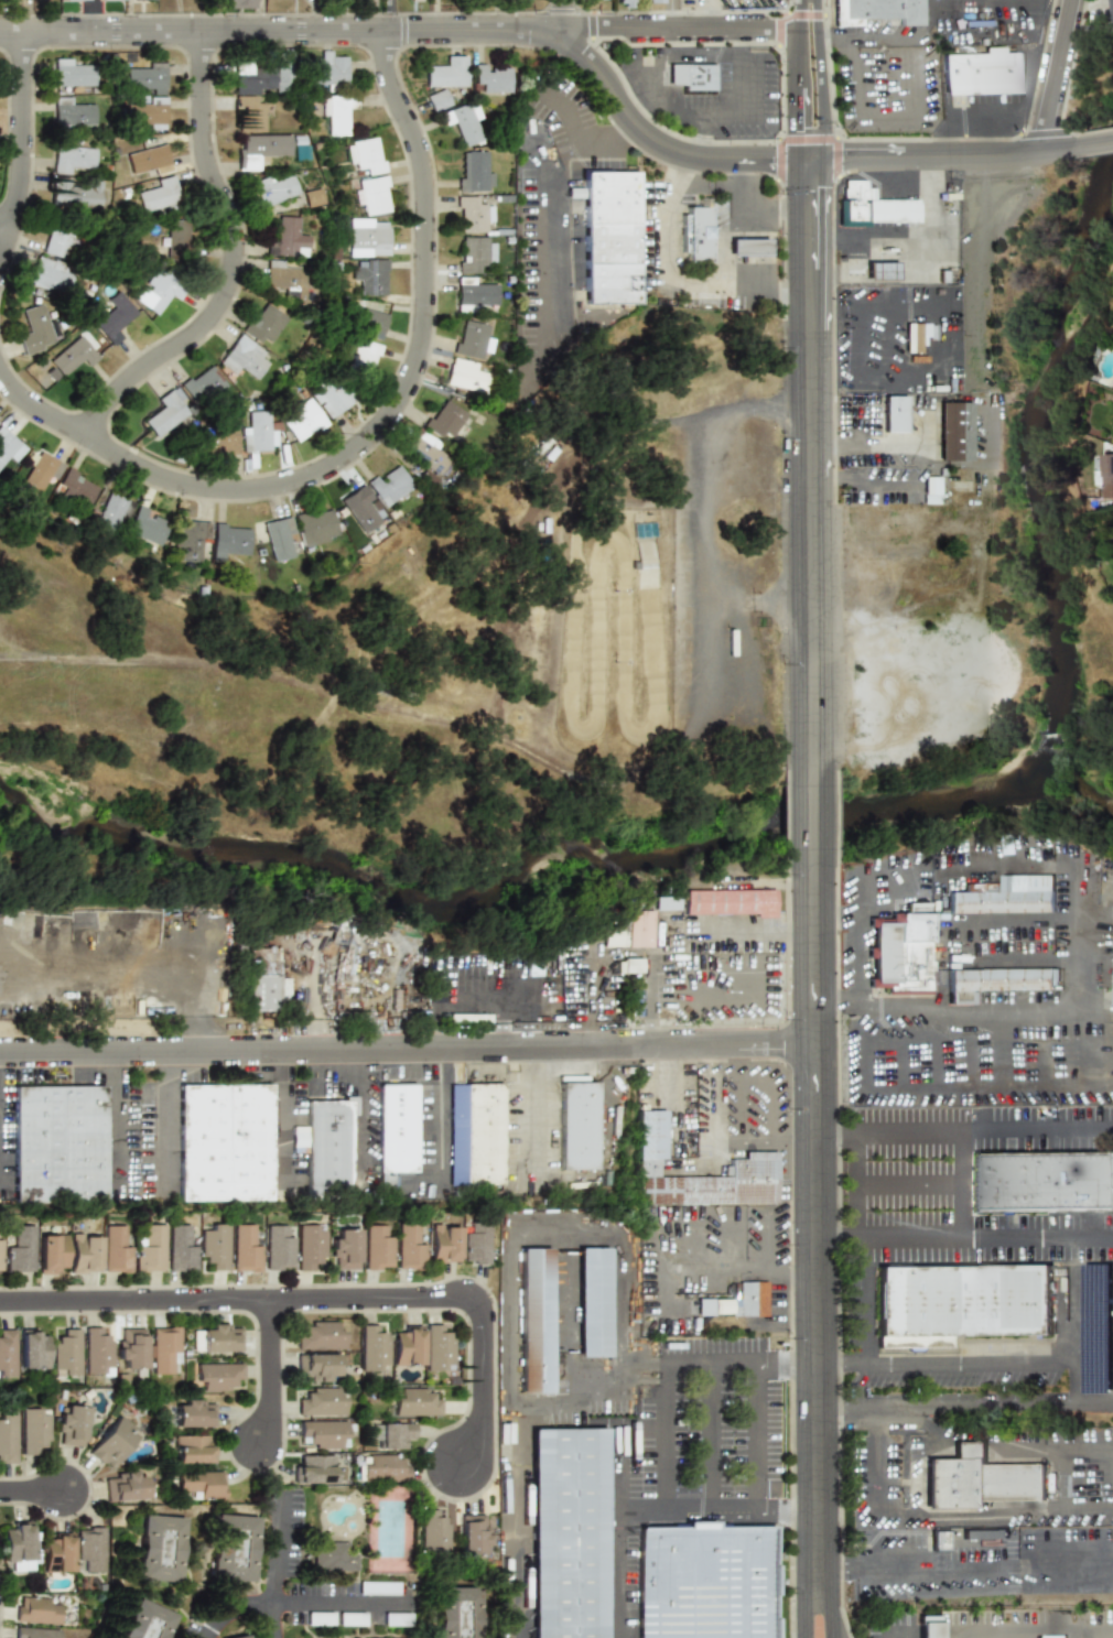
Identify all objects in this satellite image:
building: (72, 0)
building: (107, 0)
building: (656, 0)
building: (628, 2)
building: (240, 3)
road: (933, 4)
road: (1055, 7)
road: (988, 8)
building: (877, 12)
building: (1109, 13)
road: (564, 14)
road: (671, 14)
road: (390, 15)
road: (91, 17)
road: (398, 30)
building: (326, 72)
building: (446, 72)
building: (982, 72)
building: (72, 74)
building: (259, 76)
building: (691, 76)
road: (1052, 76)
building: (491, 77)
building: (145, 78)
road: (798, 79)
road: (820, 79)
road: (856, 88)
building: (436, 99)
road: (743, 104)
building: (72, 111)
road: (994, 111)
building: (147, 112)
building: (336, 112)
building: (248, 113)
building: (464, 121)
traffic signals: (799, 127)
traffic signals: (823, 127)
road: (613, 133)
road: (22, 143)
road: (1095, 144)
building: (264, 149)
building: (364, 156)
traffic signals: (772, 159)
road: (792, 159)
traffic signals: (847, 159)
building: (74, 160)
building: (148, 161)
building: (474, 171)
building: (273, 188)
traffic signals: (811, 189)
building: (74, 193)
building: (159, 195)
building: (371, 196)
building: (311, 197)
building: (854, 200)
road: (746, 213)
building: (473, 215)
road: (3, 226)
building: (695, 234)
building: (368, 237)
building: (176, 238)
building: (609, 238)
building: (289, 239)
building: (55, 241)
road: (912, 242)
building: (747, 247)
building: (475, 253)
road: (231, 260)
building: (880, 271)
building: (48, 274)
building: (370, 276)
building: (285, 279)
road: (670, 282)
building: (158, 290)
building: (477, 294)
road: (910, 310)
road: (422, 314)
building: (114, 317)
building: (369, 319)
building: (263, 323)
building: (36, 329)
building: (918, 335)
building: (474, 339)
building: (72, 355)
building: (361, 356)
building: (245, 357)
building: (465, 375)
building: (201, 383)
building: (329, 394)
building: (166, 412)
building: (894, 413)
building: (301, 420)
building: (442, 420)
building: (1111, 422)
building: (955, 431)
building: (258, 433)
building: (217, 437)
road: (107, 444)
building: (9, 446)
building: (426, 453)
road: (922, 460)
road: (810, 464)
building: (43, 470)
building: (1105, 473)
building: (387, 485)
building: (76, 487)
building: (931, 489)
building: (356, 509)
building: (114, 512)
road: (700, 513)
building: (871, 521)
building: (148, 525)
building: (314, 527)
road: (925, 530)
building: (279, 538)
building: (229, 539)
building: (191, 540)
road: (756, 601)
track: (637, 636)
road: (34, 659)
park: (182, 670)
road: (811, 817)
river: (822, 821)
road: (1110, 885)
building: (1009, 897)
building: (663, 903)
building: (733, 904)
road: (836, 910)
road: (760, 929)
building: (642, 932)
building: (610, 935)
road: (1078, 936)
building: (903, 953)
building: (631, 965)
building: (1112, 973)
building: (994, 984)
road: (648, 1001)
road: (980, 1010)
building: (473, 1018)
road: (862, 1032)
road: (407, 1046)
road: (999, 1051)
road: (669, 1074)
road: (214, 1076)
road: (764, 1081)
road: (711, 1100)
road: (538, 1107)
road: (739, 1108)
road: (359, 1109)
road: (285, 1116)
road: (1, 1122)
road: (121, 1122)
building: (579, 1126)
building: (397, 1128)
road: (984, 1129)
road: (835, 1130)
road: (436, 1132)
building: (475, 1133)
road: (742, 1137)
road: (793, 1137)
building: (298, 1138)
road: (169, 1139)
building: (58, 1145)
building: (225, 1145)
building: (328, 1151)
building: (761, 1156)
road: (855, 1183)
road: (961, 1183)
road: (908, 1186)
building: (1041, 1186)
road: (815, 1223)
road: (839, 1237)
road: (987, 1237)
road: (626, 1239)
building: (474, 1241)
building: (442, 1243)
building: (213, 1245)
building: (309, 1246)
building: (148, 1247)
building: (179, 1247)
building: (244, 1247)
building: (275, 1247)
building: (376, 1247)
building: (114, 1248)
building: (343, 1248)
building: (408, 1248)
building: (18, 1249)
building: (83, 1252)
building: (50, 1254)
road: (725, 1259)
road: (766, 1265)
road: (672, 1271)
road: (669, 1299)
road: (230, 1300)
road: (864, 1300)
building: (594, 1301)
building: (737, 1301)
building: (962, 1306)
building: (537, 1320)
building: (321, 1335)
building: (220, 1337)
building: (407, 1346)
building: (163, 1347)
building: (372, 1347)
building: (33, 1348)
building: (437, 1348)
building: (130, 1350)
building: (96, 1352)
building: (7, 1353)
building: (65, 1353)
road: (841, 1363)
road: (721, 1364)
road: (1009, 1364)
building: (318, 1367)
road: (271, 1373)
road: (1076, 1373)
building: (216, 1376)
road: (483, 1378)
building: (322, 1400)
road: (575, 1400)
building: (414, 1401)
road: (976, 1406)
road: (829, 1409)
building: (194, 1413)
building: (68, 1424)
road: (515, 1430)
building: (33, 1431)
building: (323, 1433)
building: (389, 1434)
road: (668, 1436)
building: (7, 1438)
road: (714, 1438)
road: (755, 1438)
building: (110, 1441)
road: (1004, 1443)
road: (619, 1444)
building: (191, 1449)
road: (875, 1464)
building: (381, 1467)
building: (312, 1468)
road: (1061, 1476)
building: (198, 1484)
building: (122, 1485)
building: (975, 1485)
road: (32, 1491)
road: (717, 1511)
road: (998, 1519)
park: (388, 1526)
building: (566, 1533)
building: (984, 1533)
building: (432, 1534)
building: (473, 1534)
building: (940, 1544)
building: (227, 1545)
building: (19, 1547)
building: (88, 1549)
building: (154, 1549)
road: (273, 1549)
road: (890, 1550)
building: (55, 1552)
building: (329, 1556)
road: (1050, 1562)
road: (844, 1569)
road: (620, 1574)
road: (944, 1579)
building: (710, 1583)
building: (377, 1587)
road: (298, 1604)
building: (35, 1609)
road: (806, 1609)
road: (828, 1609)
building: (457, 1617)
building: (396, 1618)
road: (271, 1620)
building: (140, 1621)
building: (928, 1626)
road: (1031, 1626)
road: (1083, 1631)
building: (34, 1632)
road: (893, 1634)
building: (236, 1637)
building: (1051, 1637)

